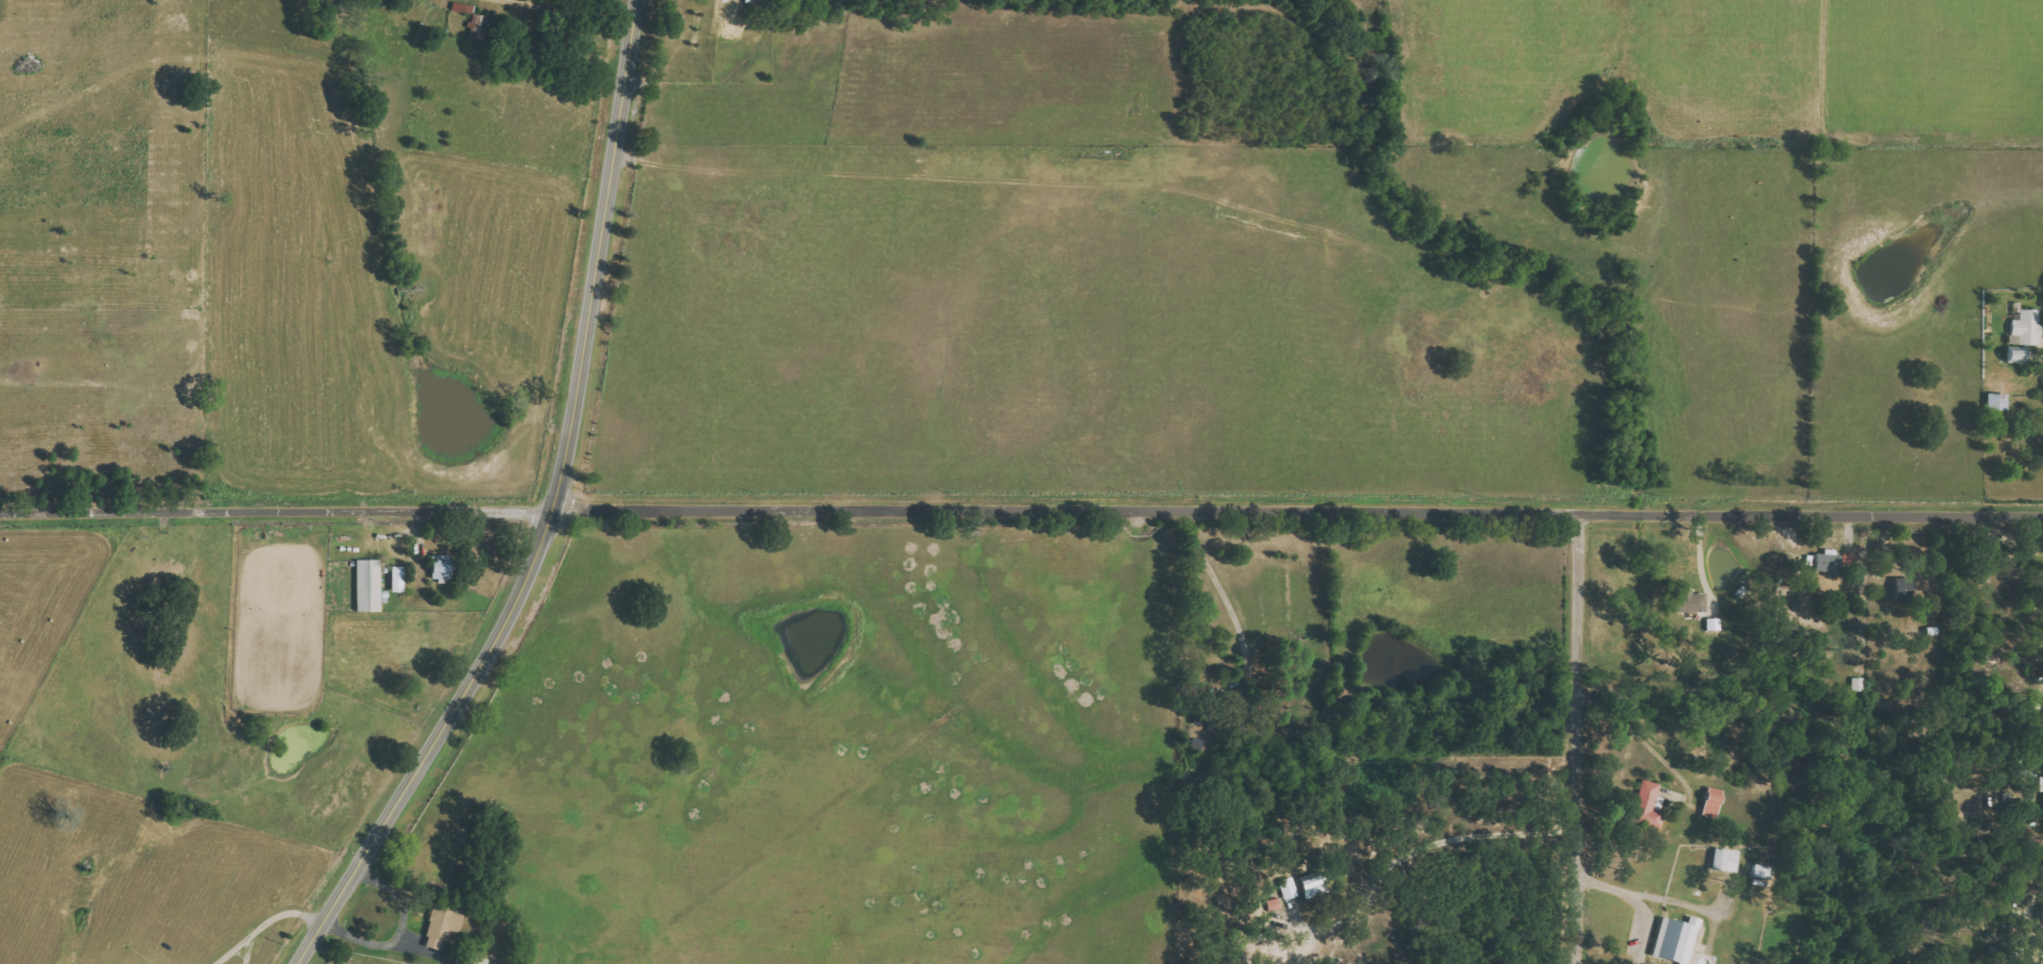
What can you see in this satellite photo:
road: (571, 13)
building: (731, 17)
building: (2027, 327)
building: (2014, 352)
road: (280, 506)
road: (1301, 510)
road: (559, 514)
building: (1849, 559)
building: (1827, 562)
building: (438, 569)
building: (397, 579)
road: (1220, 584)
building: (369, 585)
building: (1687, 602)
road: (1577, 736)
building: (1711, 801)
building: (1646, 805)
road: (1416, 833)
building: (1724, 859)
building: (1287, 887)
building: (1312, 887)
road: (1628, 894)
road: (264, 920)
building: (440, 928)
building: (1675, 939)
building: (476, 960)

